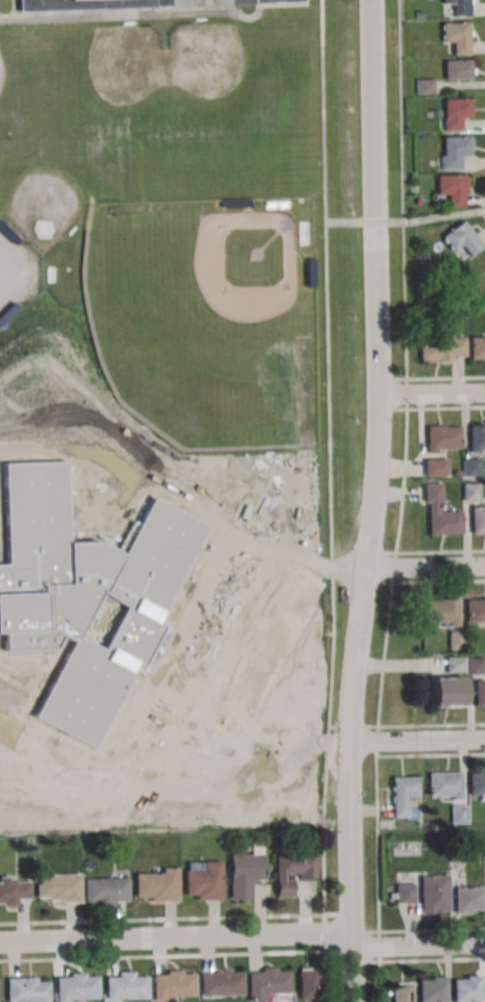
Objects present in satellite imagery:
building: (120, 4)
building: (458, 7)
road: (12, 9)
road: (162, 12)
building: (419, 14)
building: (456, 36)
park: (206, 63)
park: (123, 64)
building: (458, 69)
park: (1, 74)
building: (424, 86)
building: (456, 112)
building: (454, 150)
building: (452, 188)
road: (402, 189)
building: (418, 201)
road: (483, 202)
park: (43, 205)
road: (437, 217)
road: (345, 222)
road: (377, 222)
building: (8, 233)
building: (461, 238)
park: (16, 272)
building: (310, 273)
building: (7, 313)
park: (203, 321)
building: (442, 348)
building: (477, 349)
road: (446, 378)
road: (431, 392)
road: (446, 408)
building: (442, 439)
building: (477, 439)
road: (405, 466)
building: (471, 467)
building: (436, 468)
road: (330, 476)
building: (471, 493)
road: (371, 501)
building: (440, 513)
building: (478, 521)
road: (424, 566)
road: (393, 569)
building: (84, 592)
building: (475, 611)
building: (441, 612)
building: (457, 640)
road: (384, 654)
building: (454, 664)
building: (475, 667)
building: (448, 694)
building: (479, 694)
road: (431, 725)
road: (353, 727)
road: (416, 741)
road: (430, 754)
building: (476, 783)
building: (444, 784)
building: (402, 793)
building: (458, 814)
road: (376, 829)
building: (484, 850)
building: (456, 853)
building: (291, 871)
building: (244, 873)
building: (203, 879)
building: (156, 885)
building: (57, 887)
building: (14, 890)
building: (105, 890)
building: (404, 893)
building: (433, 893)
building: (467, 899)
road: (162, 919)
road: (176, 937)
road: (418, 945)
road: (378, 946)
road: (162, 956)
road: (325, 977)
building: (221, 982)
road: (380, 982)
building: (173, 983)
building: (267, 983)
building: (307, 983)
building: (75, 986)
building: (125, 986)
building: (432, 989)
building: (467, 989)
building: (26, 990)
building: (401, 992)

